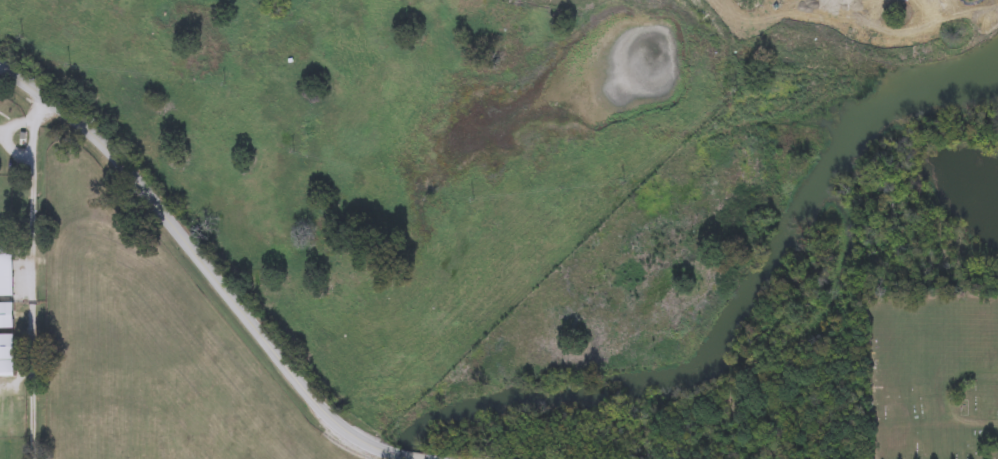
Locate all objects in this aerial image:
road: (898, 55)
road: (36, 114)
road: (6, 134)
road: (3, 136)
road: (203, 269)
building: (4, 272)
road: (30, 304)
building: (5, 317)
building: (5, 356)
park: (932, 375)
road: (952, 402)

